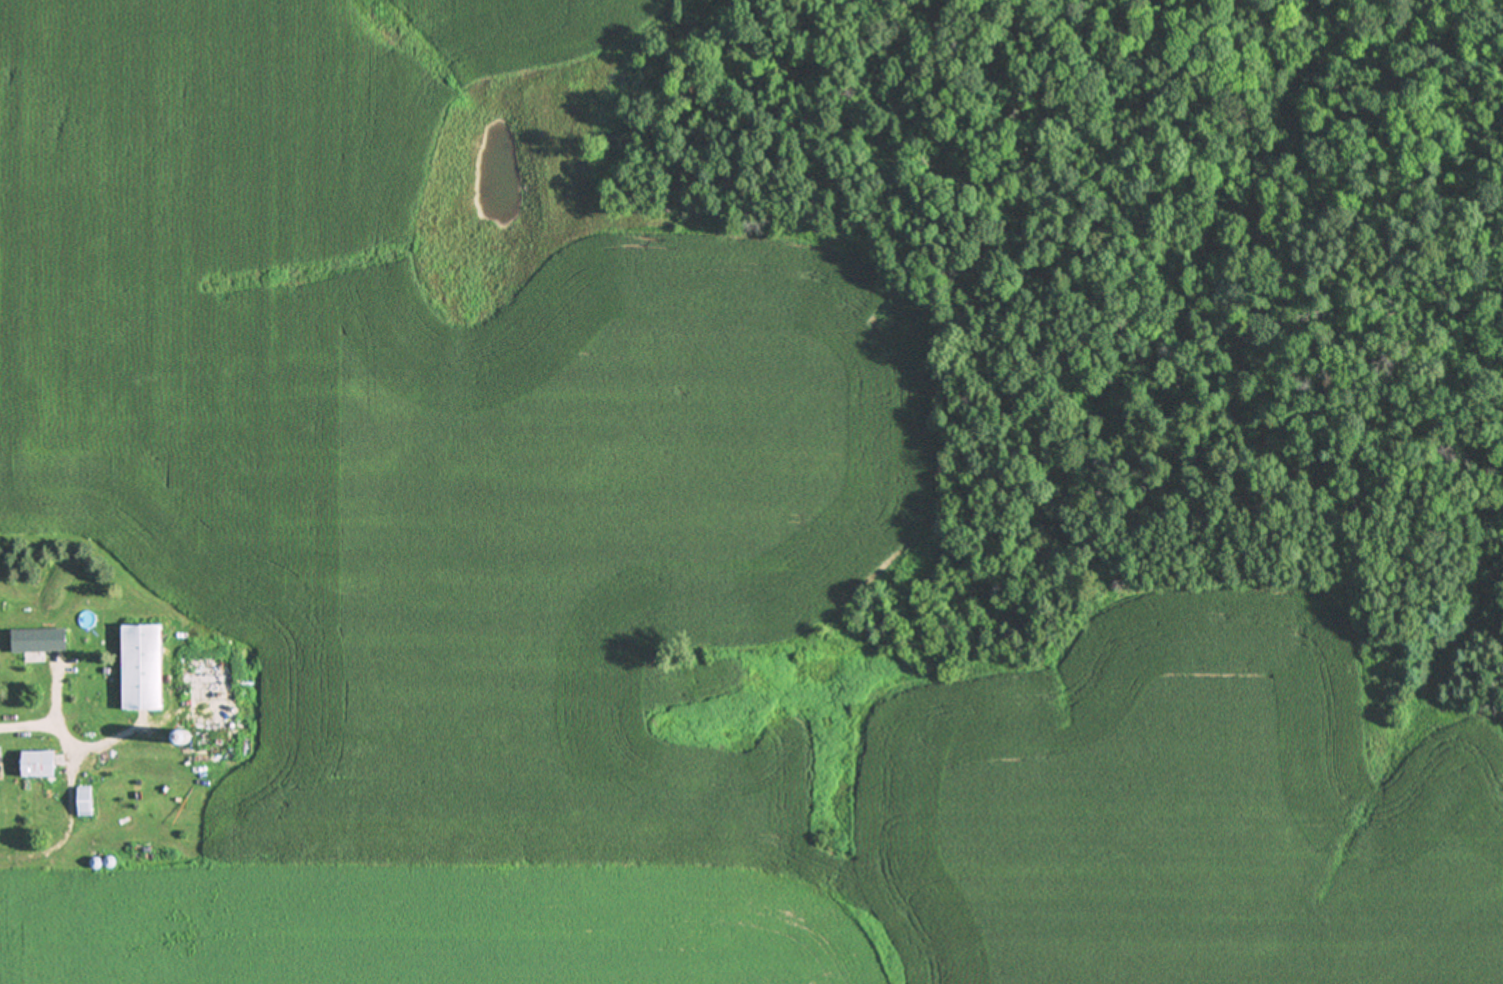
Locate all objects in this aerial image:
building: (42, 640)
building: (147, 666)
road: (72, 740)
building: (43, 763)
building: (89, 800)

